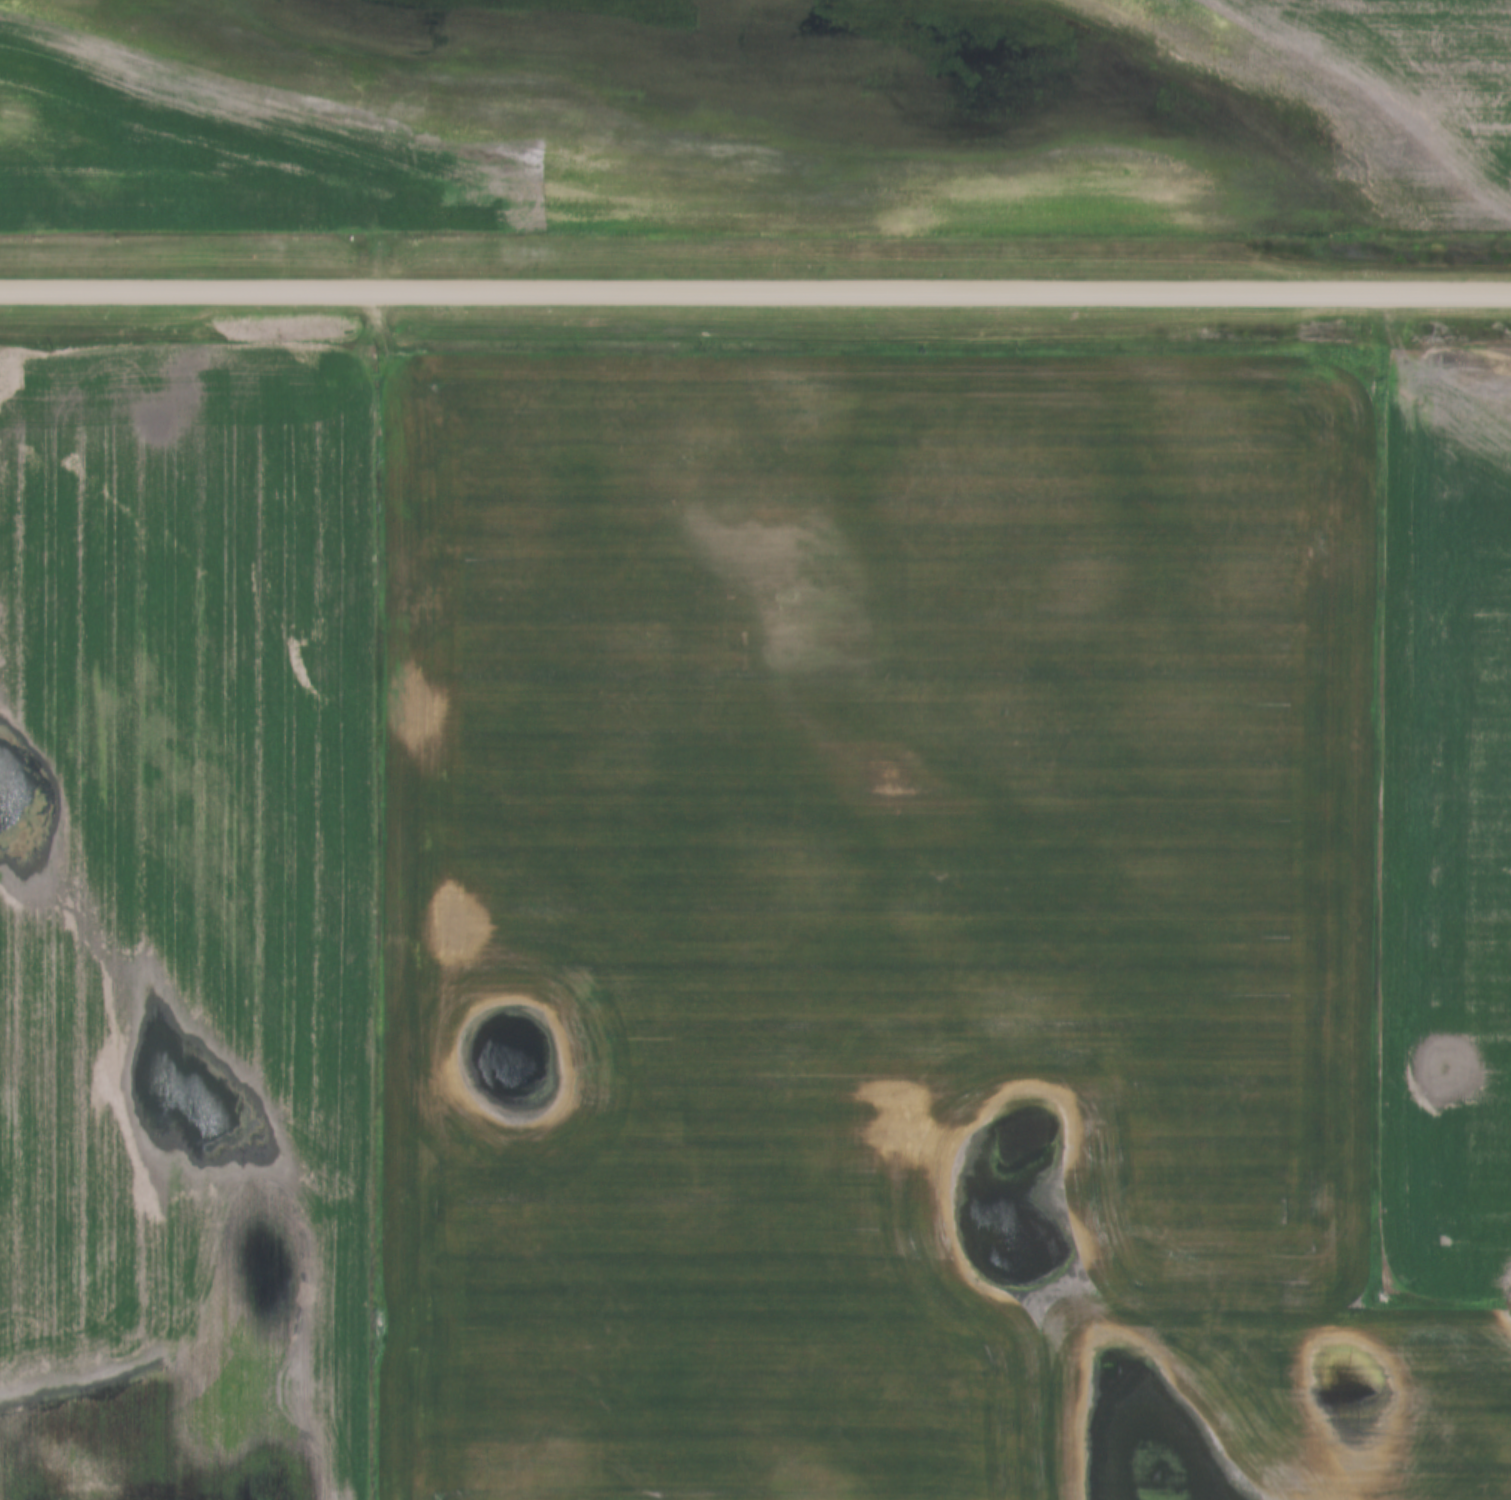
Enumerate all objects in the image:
crop: (756, 112)
road: (755, 290)

